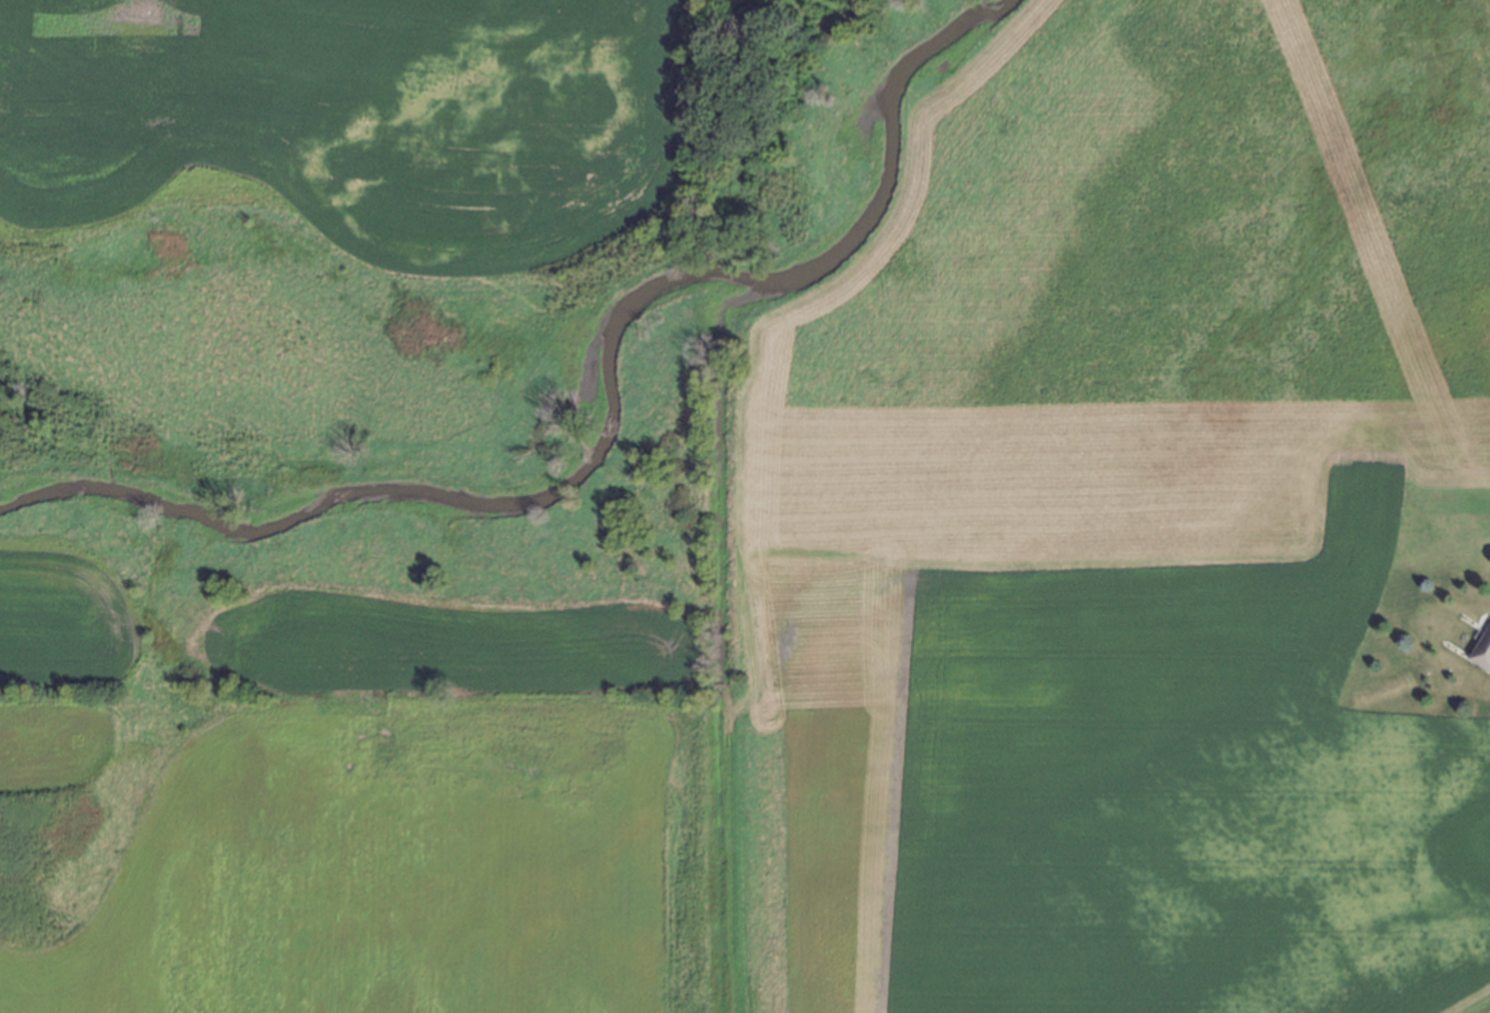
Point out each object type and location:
river: (864, 159)
river: (414, 508)
building: (1483, 649)

